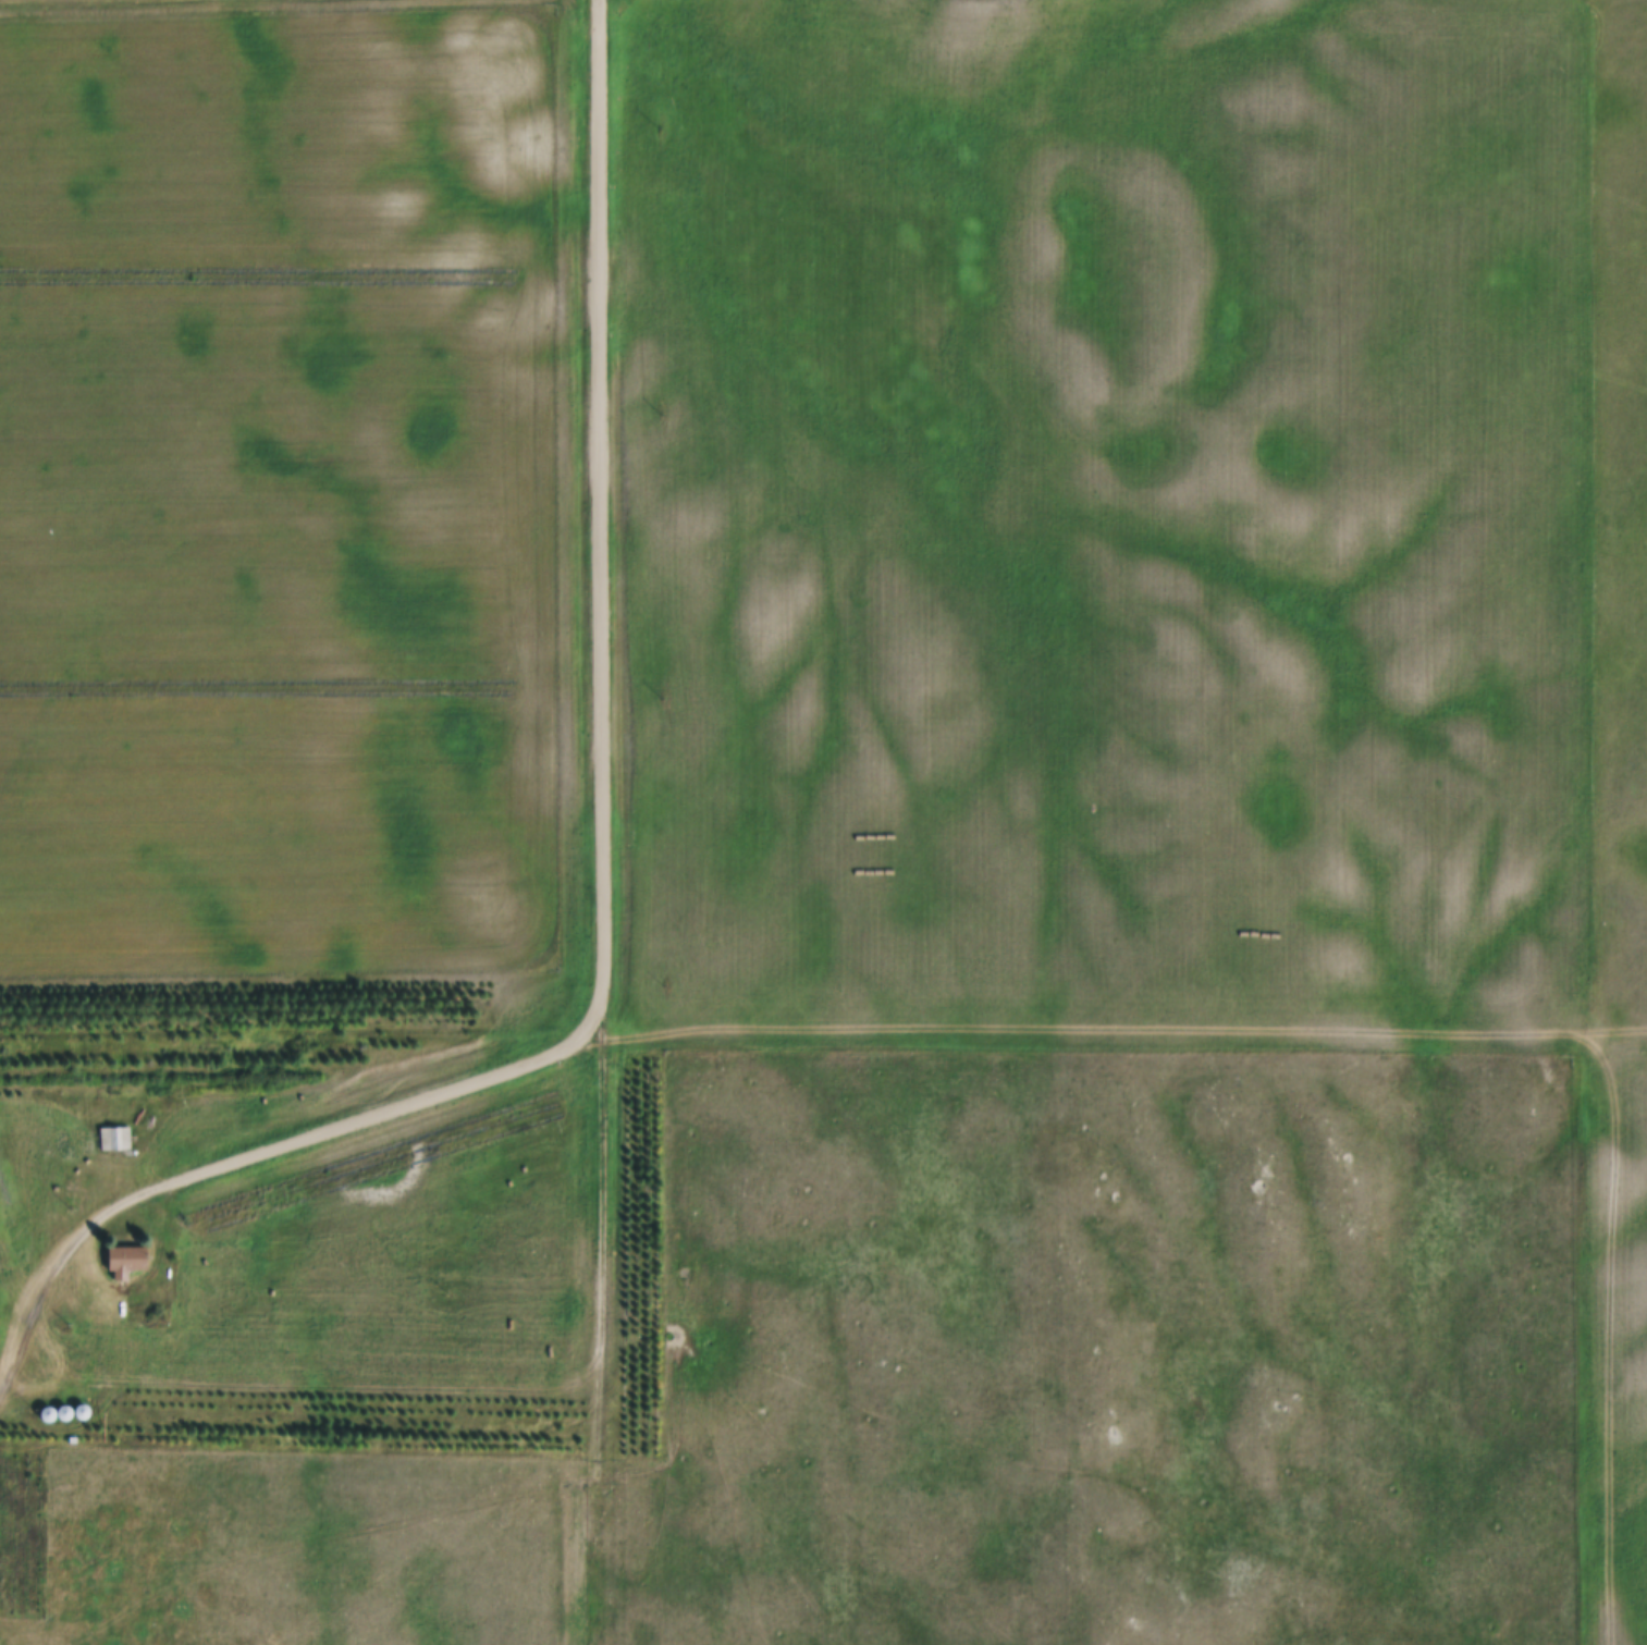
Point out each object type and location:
road: (600, 504)
building: (54, 1109)
road: (366, 1114)
building: (114, 1139)
building: (85, 1142)
building: (125, 1261)
road: (601, 1326)
building: (78, 1412)
silo: (78, 1412)
building: (61, 1413)
silo: (61, 1413)
building: (45, 1414)
silo: (45, 1414)
road: (287, 1415)
building: (73, 1440)

